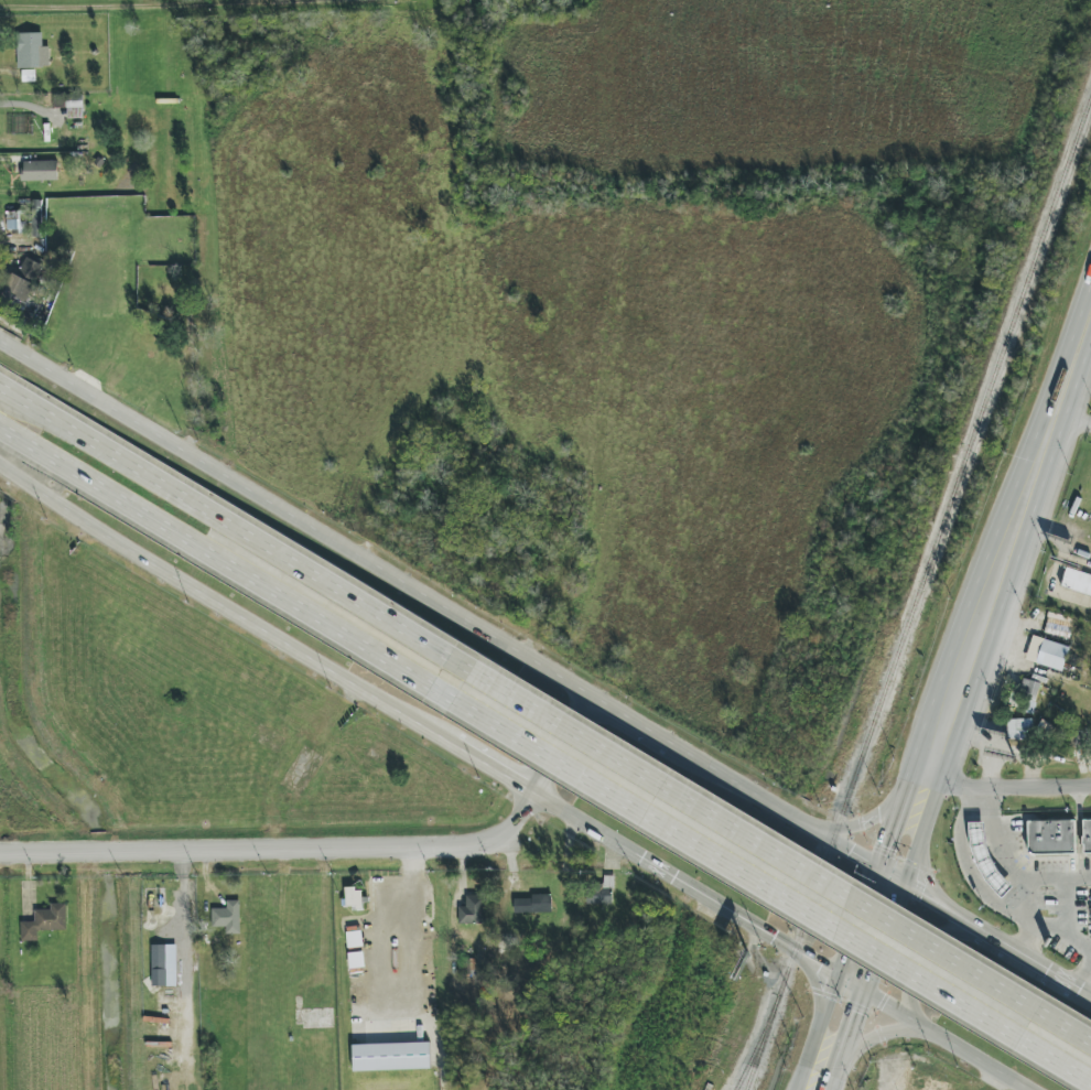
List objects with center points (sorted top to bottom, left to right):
road: (208, 18)
building: (32, 51)
building: (58, 101)
building: (75, 109)
building: (40, 171)
building: (36, 218)
building: (15, 220)
building: (24, 281)
road: (33, 358)
road: (1078, 363)
road: (130, 466)
road: (21, 475)
road: (121, 501)
road: (326, 539)
building: (1077, 582)
road: (976, 590)
railway: (918, 594)
road: (245, 620)
building: (1059, 625)
building: (1052, 655)
road: (980, 695)
building: (1029, 697)
road: (627, 723)
building: (1019, 729)
road: (560, 747)
road: (493, 770)
road: (1022, 783)
road: (670, 802)
road: (773, 808)
road: (853, 824)
road: (890, 831)
road: (665, 833)
building: (1087, 837)
building: (1051, 838)
road: (280, 850)
road: (1007, 866)
traffic signals: (878, 868)
road: (971, 868)
building: (602, 893)
traffic signals: (917, 893)
building: (354, 898)
road: (706, 898)
building: (533, 905)
building: (474, 909)
building: (227, 917)
road: (424, 918)
road: (1034, 918)
road: (860, 921)
building: (45, 922)
road: (984, 932)
road: (1063, 937)
building: (164, 965)
road: (12, 971)
traffic signals: (841, 975)
road: (1088, 985)
traffic signals: (882, 999)
road: (822, 1033)
road: (889, 1037)
road: (867, 1040)
railway: (758, 1043)
road: (955, 1044)
building: (391, 1057)
road: (852, 1087)

